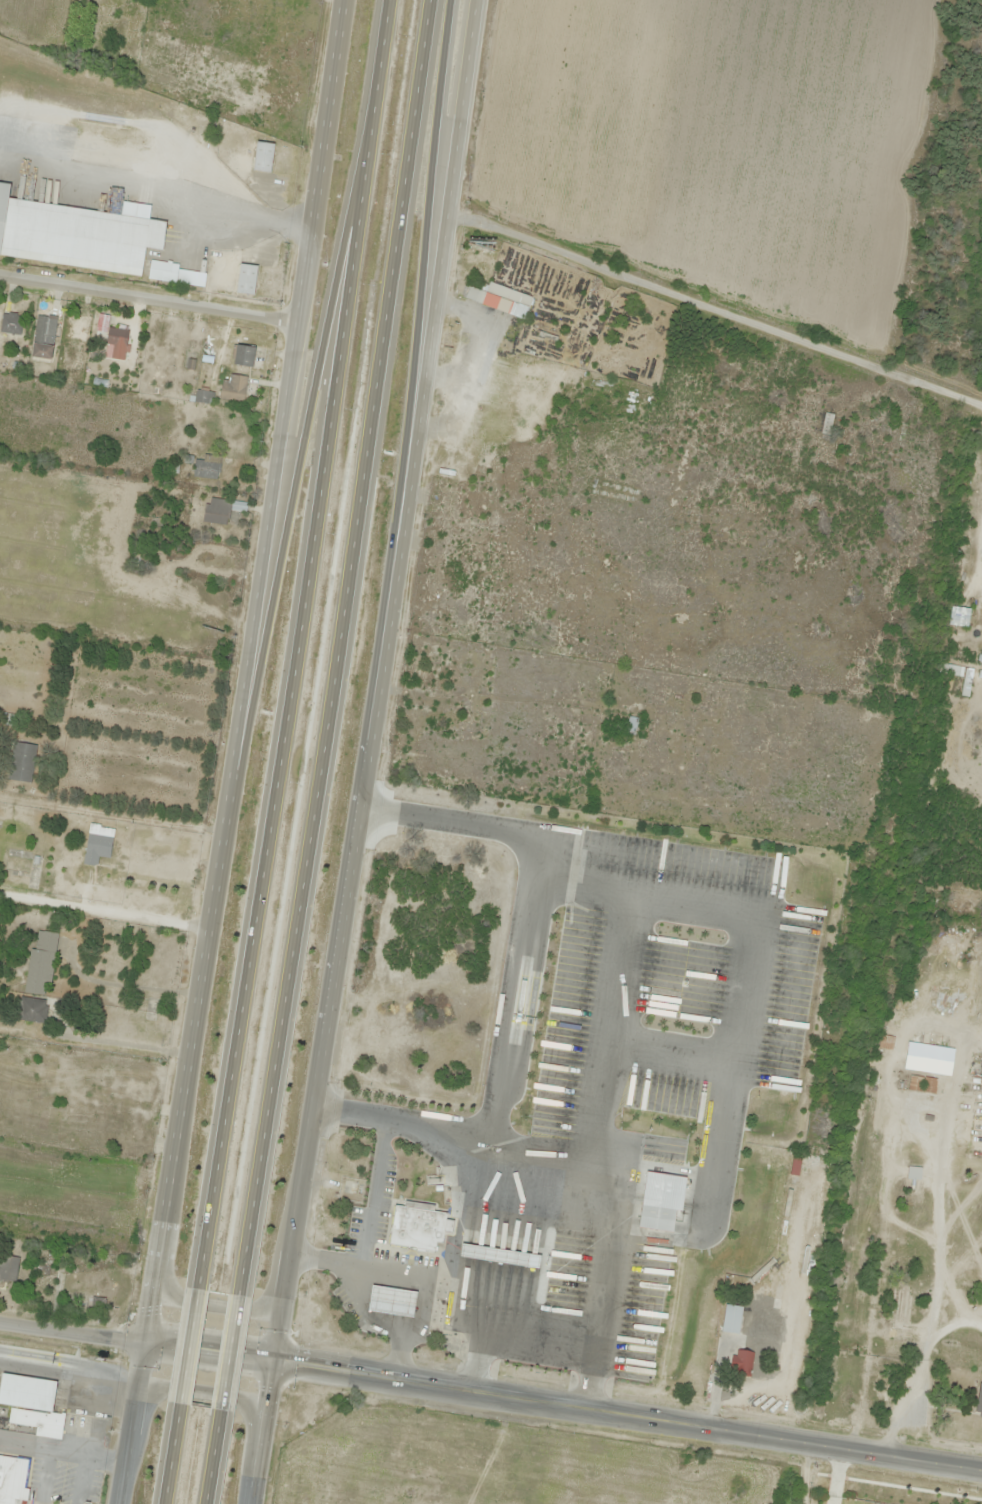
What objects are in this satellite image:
building: (263, 157)
road: (427, 215)
building: (78, 234)
building: (176, 275)
building: (246, 279)
building: (498, 299)
road: (148, 300)
building: (10, 324)
building: (43, 338)
building: (117, 339)
building: (244, 356)
building: (68, 364)
building: (233, 389)
building: (202, 396)
building: (826, 424)
road: (302, 454)
building: (206, 467)
building: (220, 510)
building: (139, 554)
building: (959, 617)
road: (297, 643)
road: (337, 649)
building: (965, 686)
building: (631, 726)
road: (237, 752)
road: (370, 752)
building: (20, 762)
building: (439, 823)
building: (97, 844)
building: (440, 852)
building: (40, 963)
building: (31, 1010)
building: (460, 1036)
building: (419, 1040)
building: (885, 1043)
building: (925, 1059)
building: (394, 1064)
building: (921, 1085)
building: (18, 1104)
building: (110, 1134)
building: (913, 1174)
building: (656, 1220)
building: (416, 1229)
building: (494, 1256)
building: (43, 1277)
building: (392, 1303)
road: (218, 1305)
building: (897, 1313)
building: (731, 1320)
road: (72, 1331)
traffic signals: (145, 1342)
road: (190, 1345)
road: (231, 1352)
traffic signals: (273, 1361)
building: (742, 1365)
road: (201, 1391)
building: (979, 1399)
building: (31, 1405)
road: (563, 1405)
road: (173, 1454)
road: (215, 1454)
building: (12, 1479)

